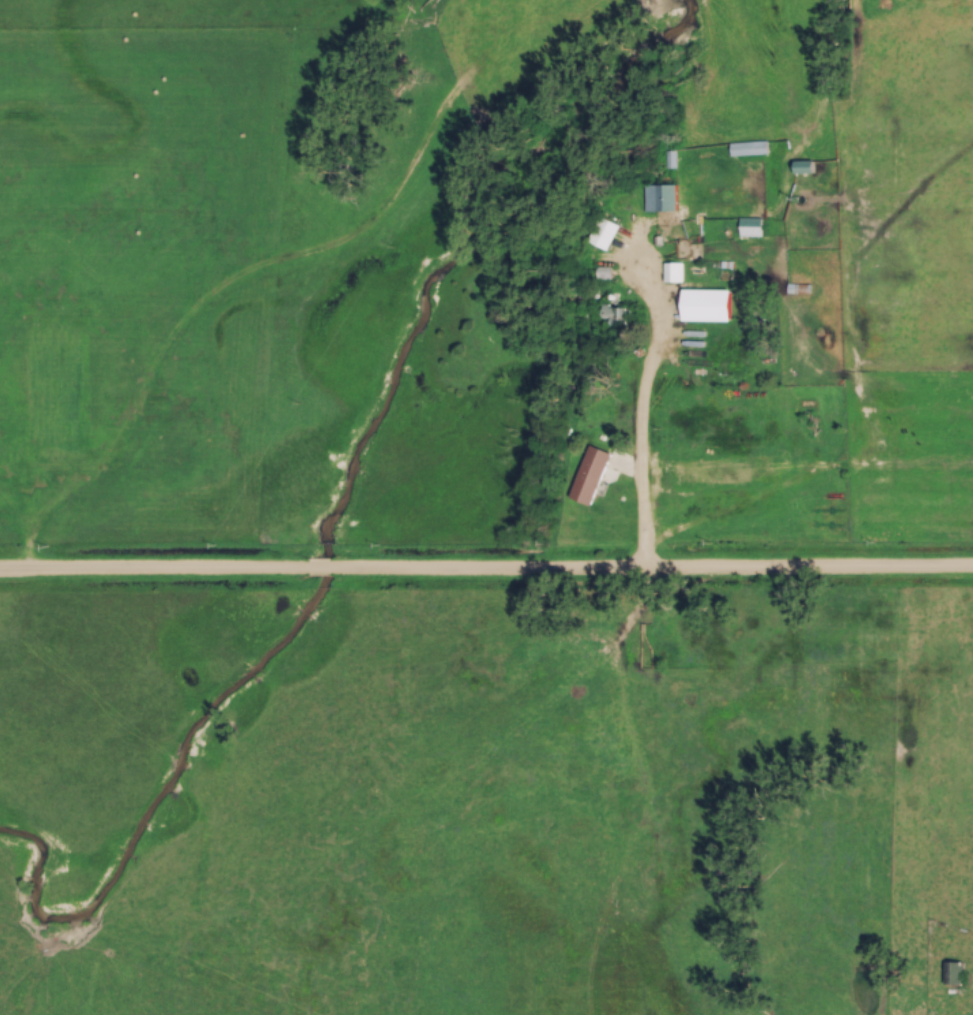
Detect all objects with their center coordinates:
building: (747, 149)
building: (800, 168)
building: (657, 198)
building: (748, 227)
building: (600, 233)
building: (670, 272)
building: (600, 273)
building: (796, 289)
building: (613, 316)
building: (51, 396)
road: (642, 405)
building: (587, 476)
river: (336, 512)
road: (318, 567)
road: (154, 568)
road: (651, 569)
building: (951, 973)

